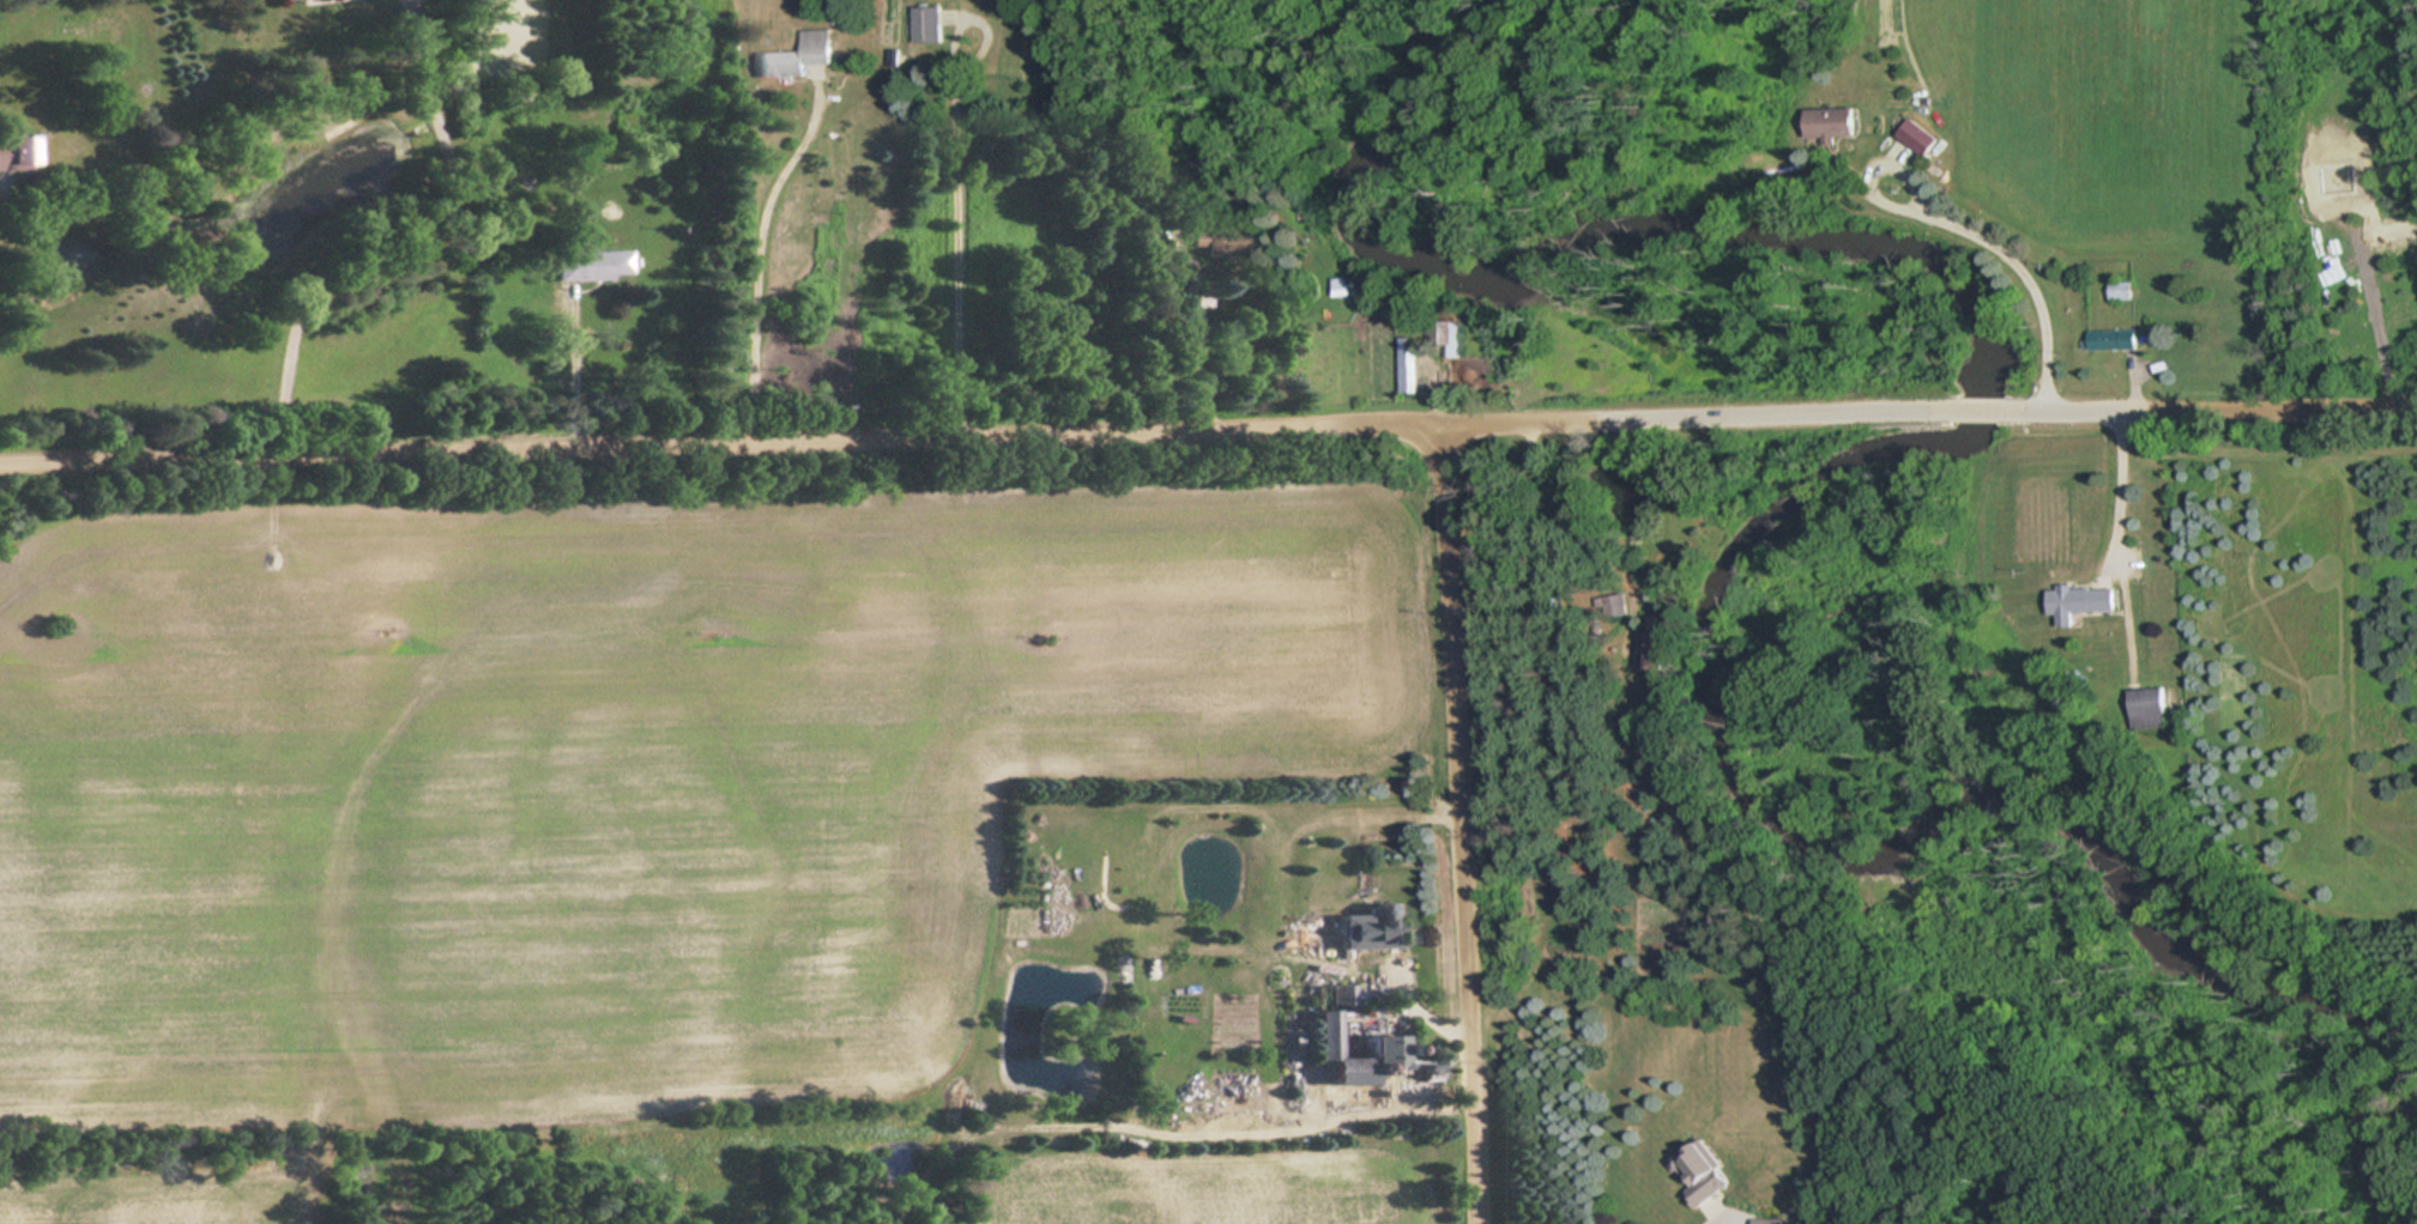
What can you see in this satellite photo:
building: (927, 24)
building: (798, 56)
building: (1836, 122)
building: (1923, 138)
building: (18, 152)
building: (663, 159)
building: (1204, 171)
building: (1216, 240)
road: (405, 246)
building: (594, 265)
building: (1343, 286)
building: (2125, 290)
building: (1452, 339)
building: (2115, 340)
building: (1412, 366)
road: (2292, 402)
road: (1966, 406)
road: (2097, 406)
road: (1765, 411)
road: (811, 438)
river: (1842, 463)
building: (2081, 601)
building: (1655, 649)
building: (2150, 707)
road: (1456, 823)
building: (1380, 927)
building: (1330, 1022)
river: (2373, 1155)
building: (1704, 1171)
building: (1770, 1220)

